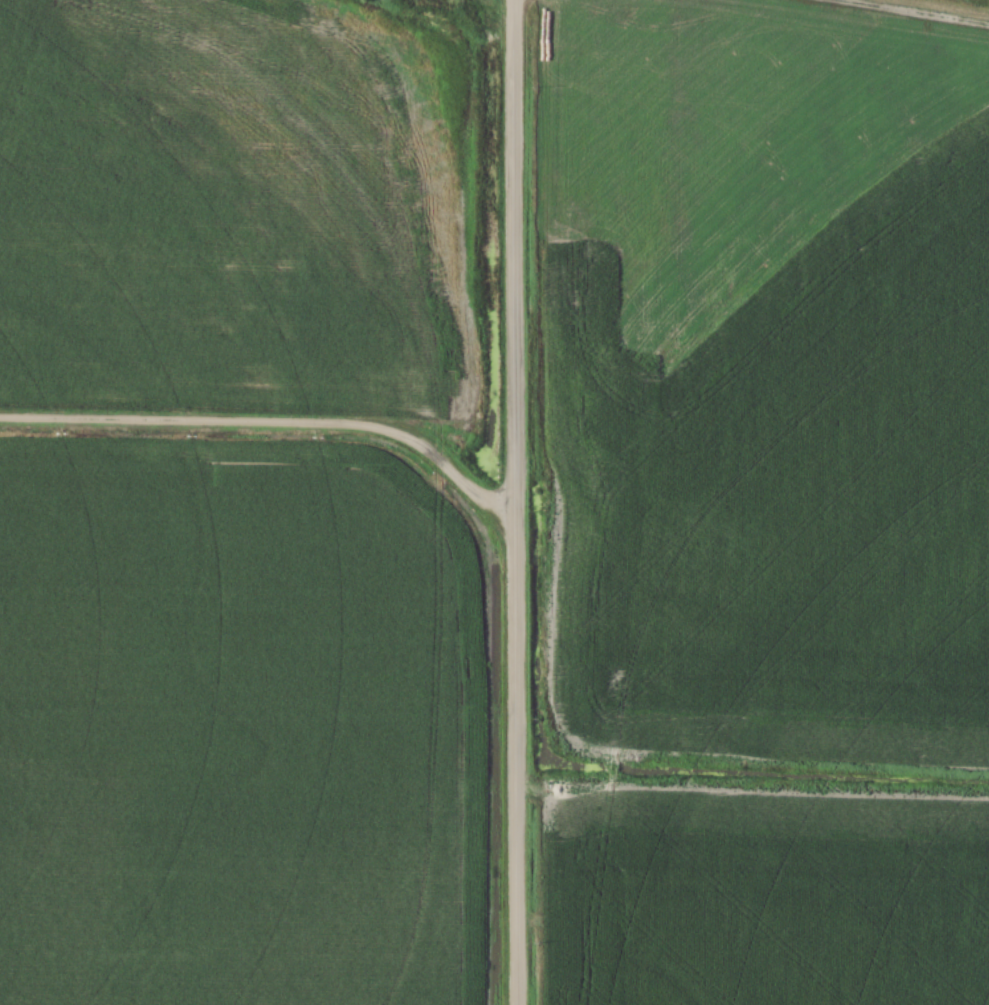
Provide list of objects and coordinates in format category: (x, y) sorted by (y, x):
road: (270, 421)
road: (515, 502)

